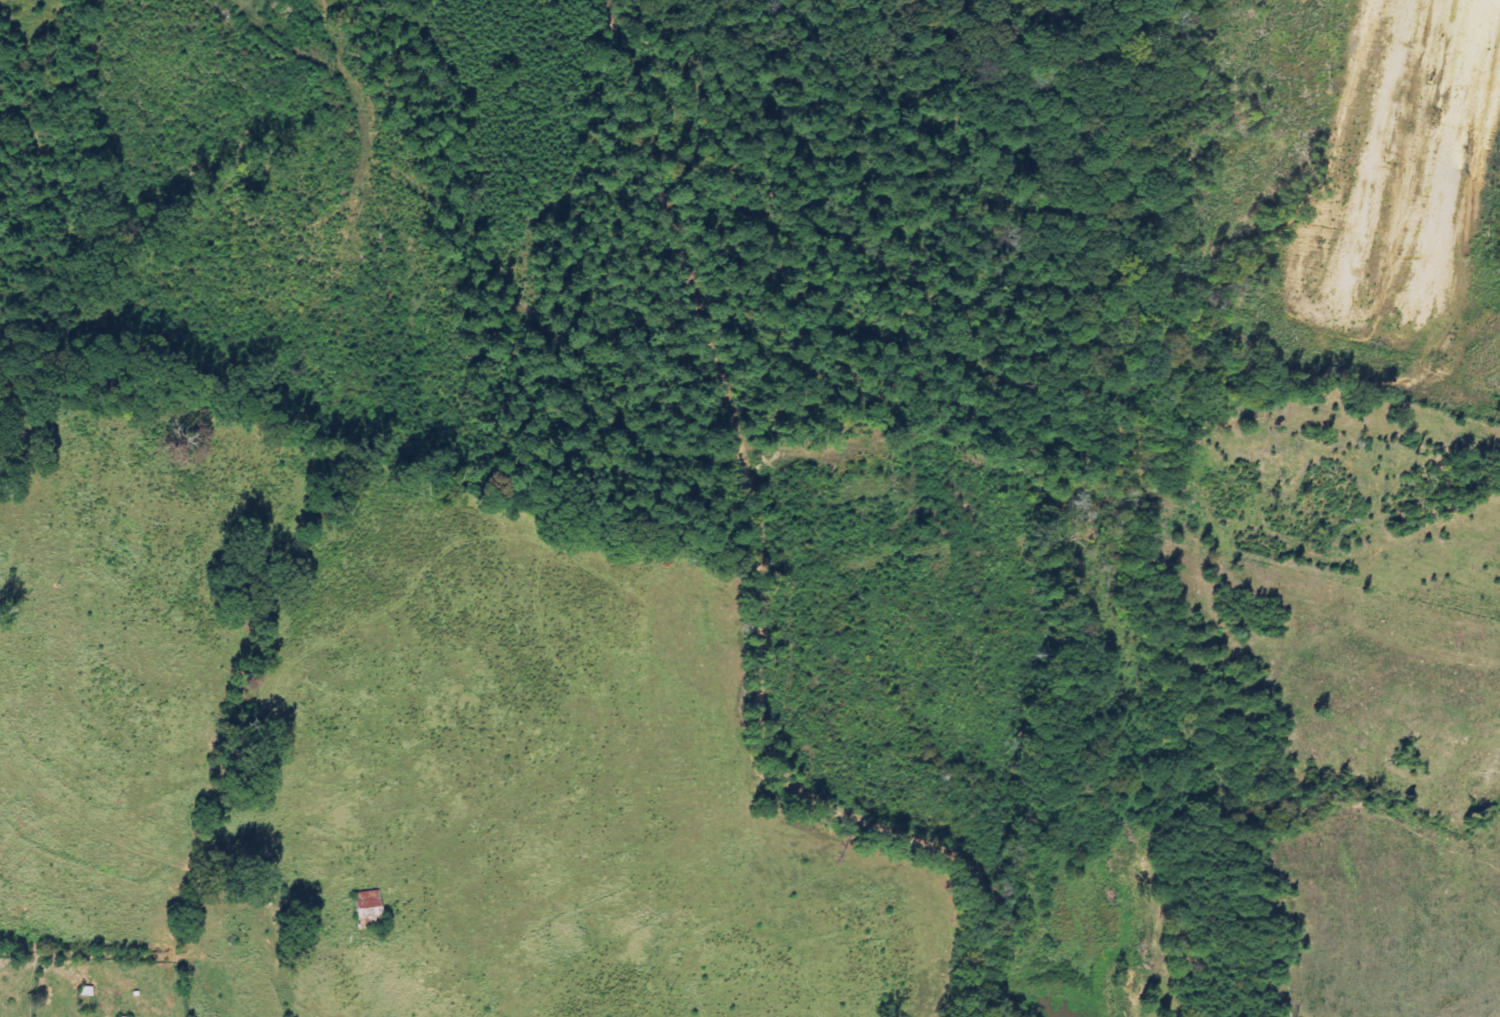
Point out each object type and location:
road: (751, 555)

